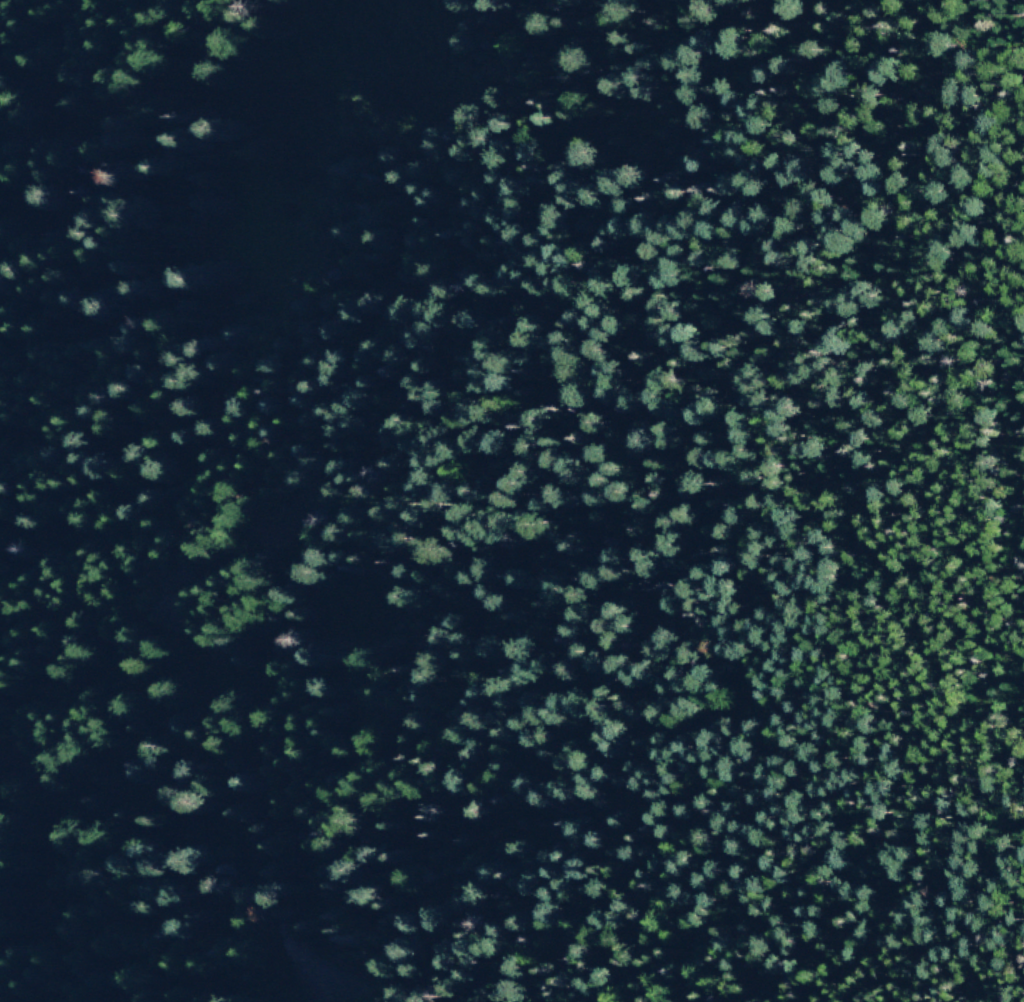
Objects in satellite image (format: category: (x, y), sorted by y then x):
road: (1017, 313)
road: (930, 834)

